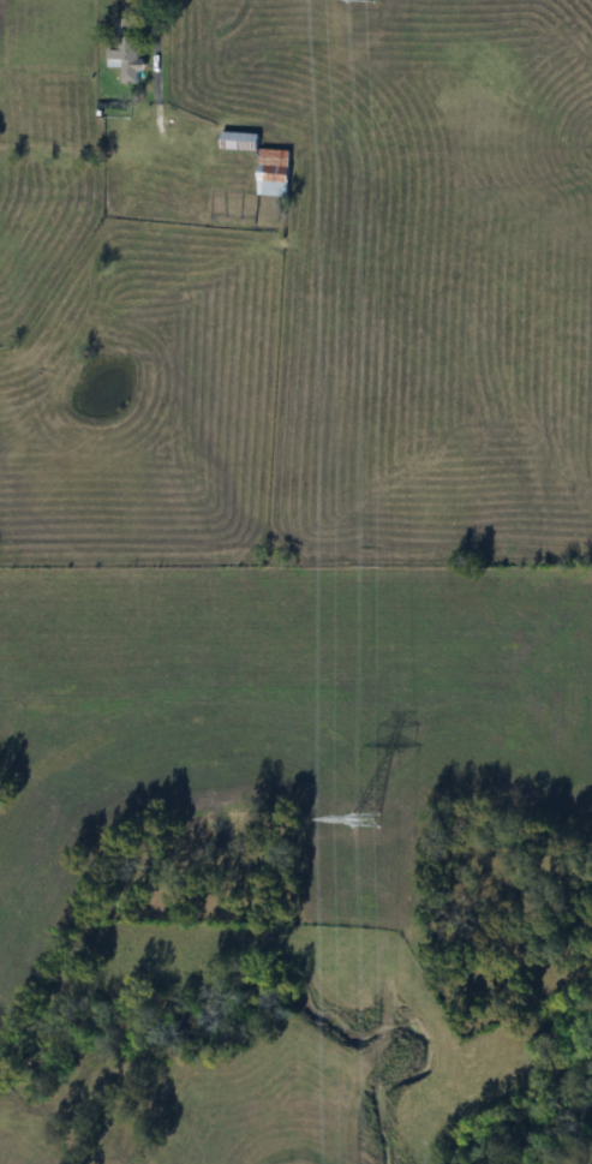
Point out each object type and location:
road: (163, 47)
building: (124, 55)
building: (237, 143)
building: (270, 173)
power tower: (360, 819)

